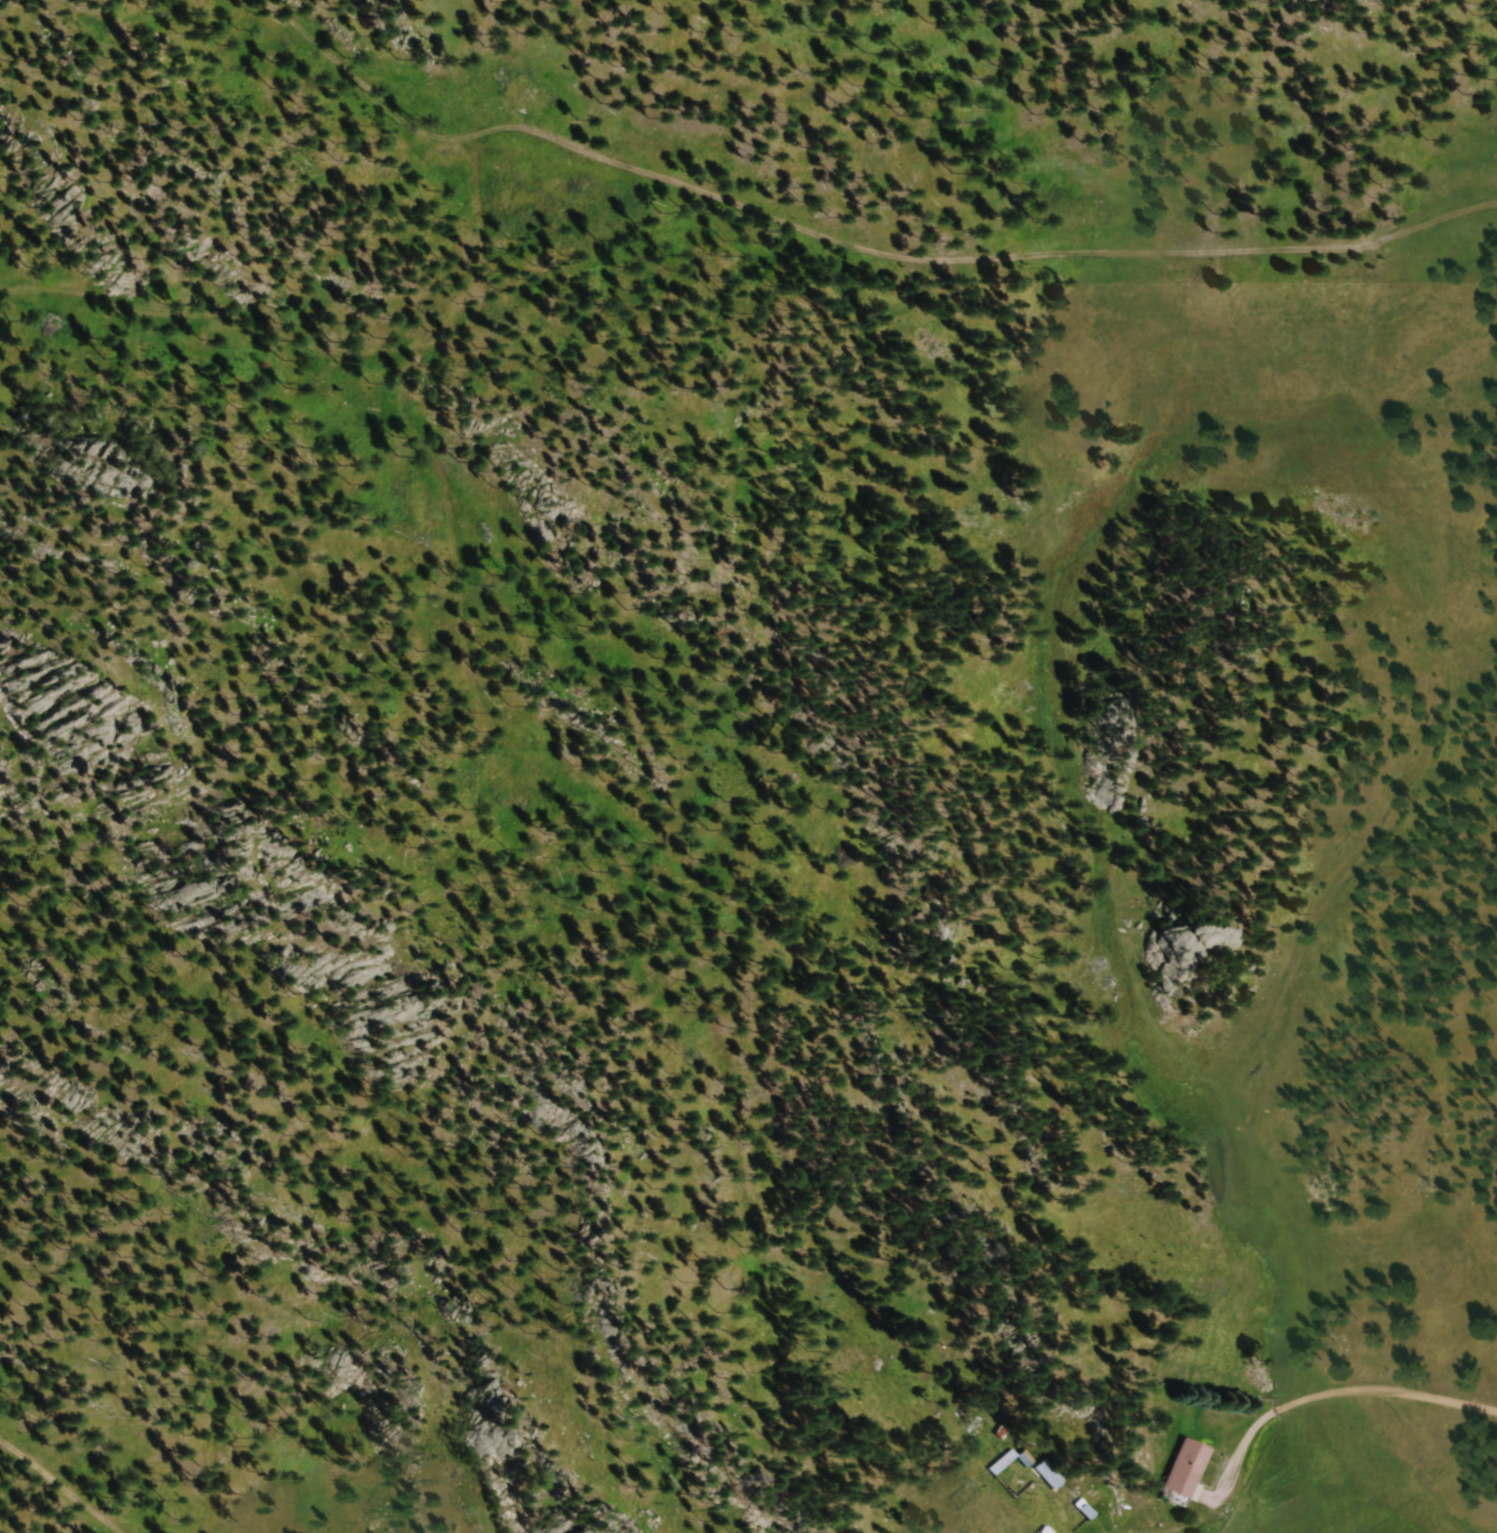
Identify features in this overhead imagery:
road: (850, 239)
road: (1405, 1390)
building: (1184, 1472)
building: (1050, 1476)
road: (62, 1485)

